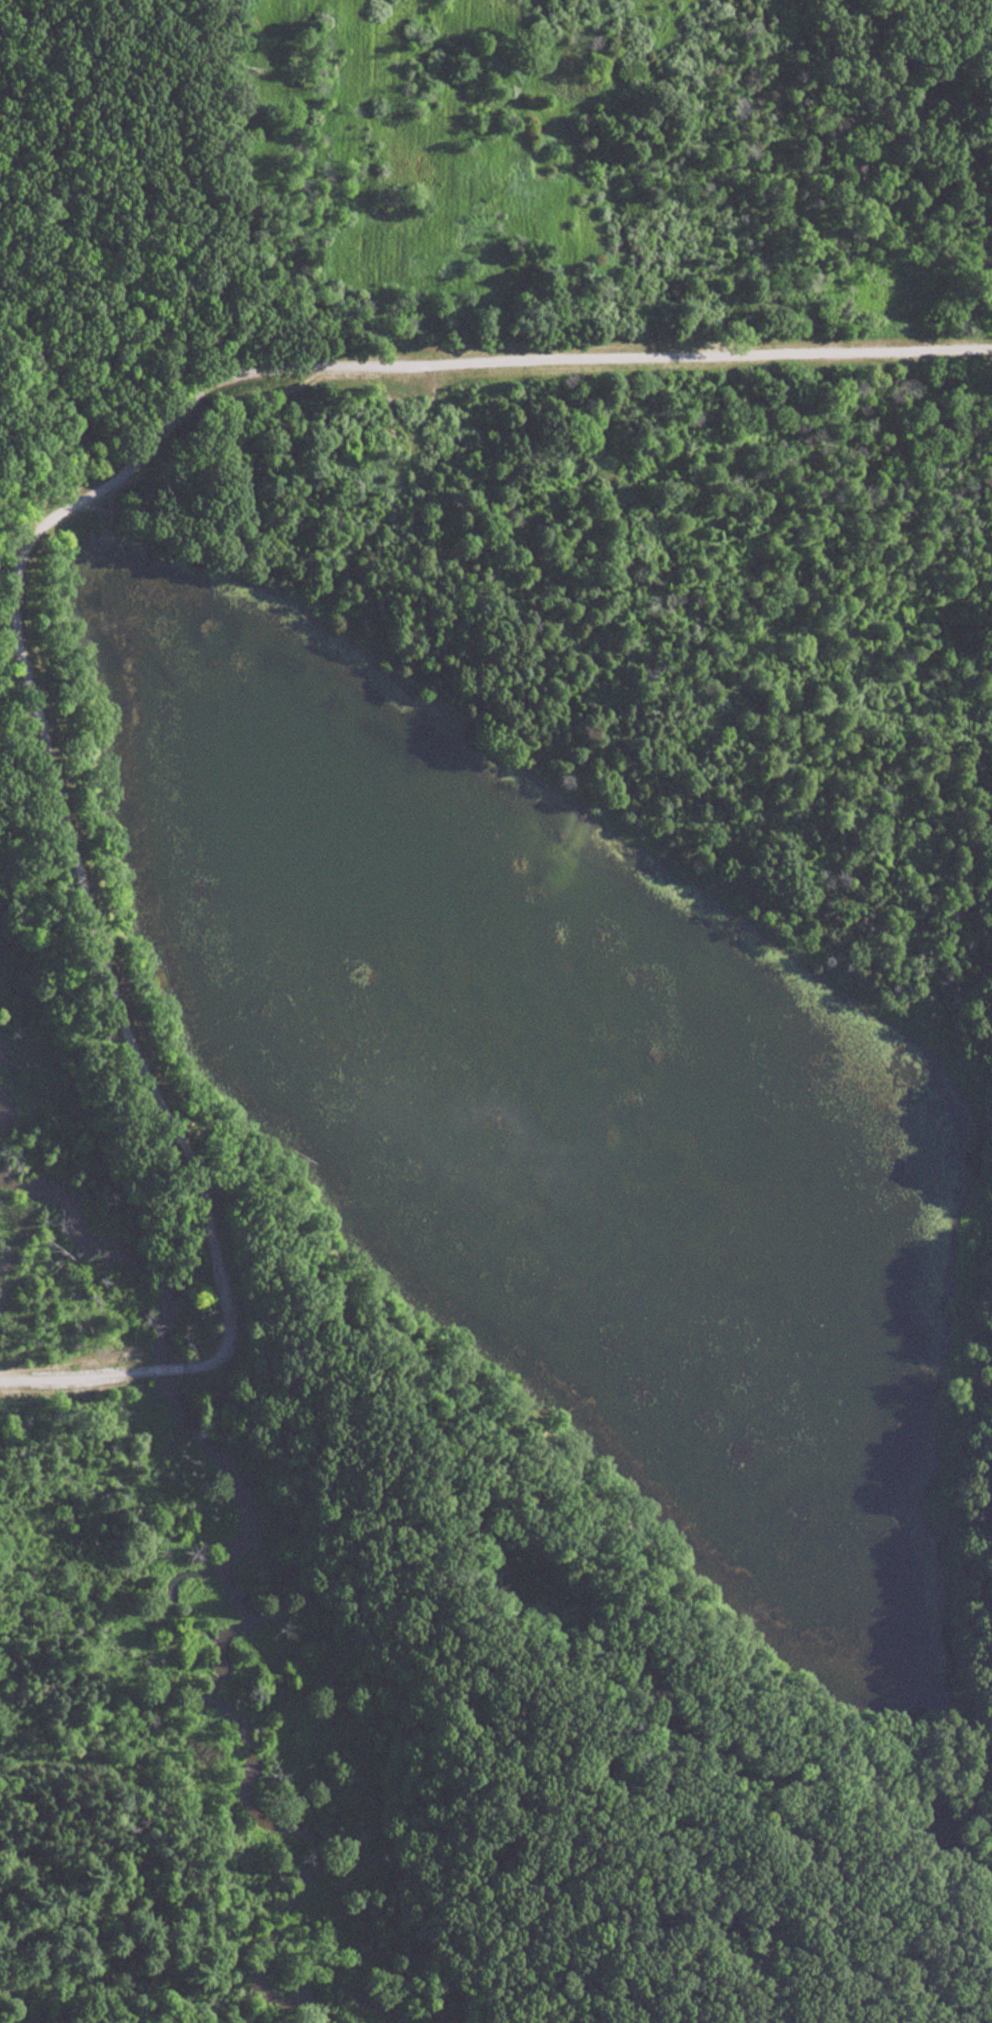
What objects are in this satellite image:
road: (73, 311)
road: (609, 346)
road: (11, 532)
road: (59, 791)
park: (496, 1011)
road: (233, 1324)
road: (199, 1364)
road: (165, 1367)
road: (77, 1370)
road: (300, 1507)

